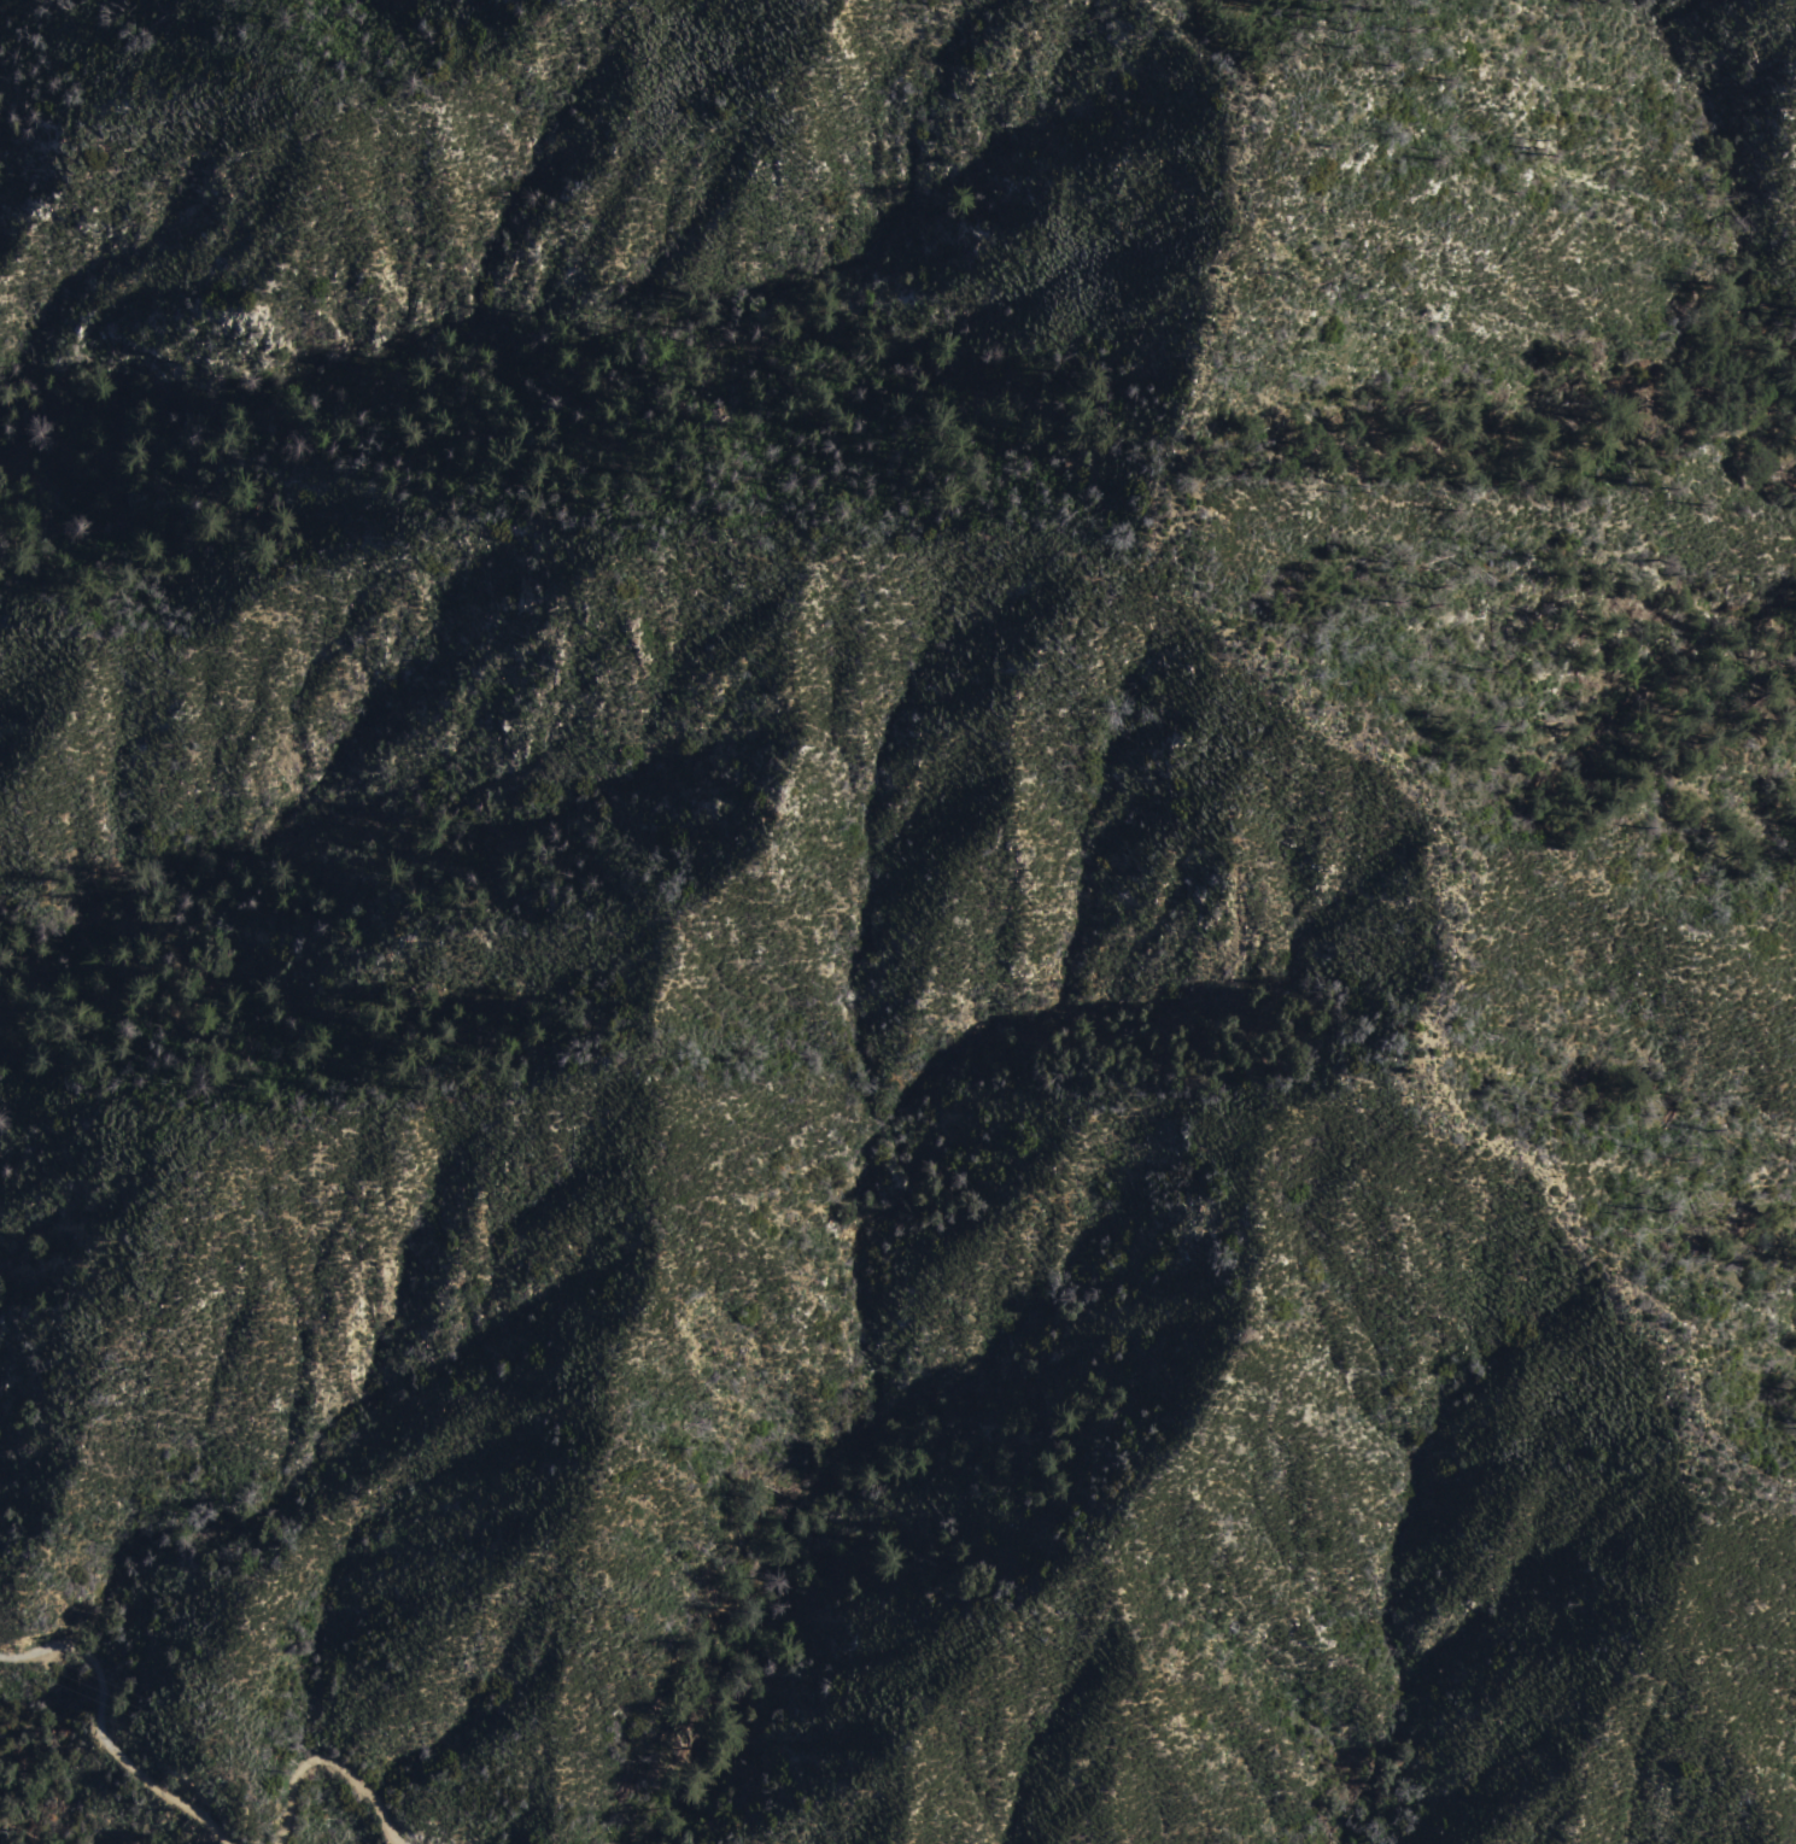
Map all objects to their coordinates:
road: (107, 1735)
road: (337, 1768)

